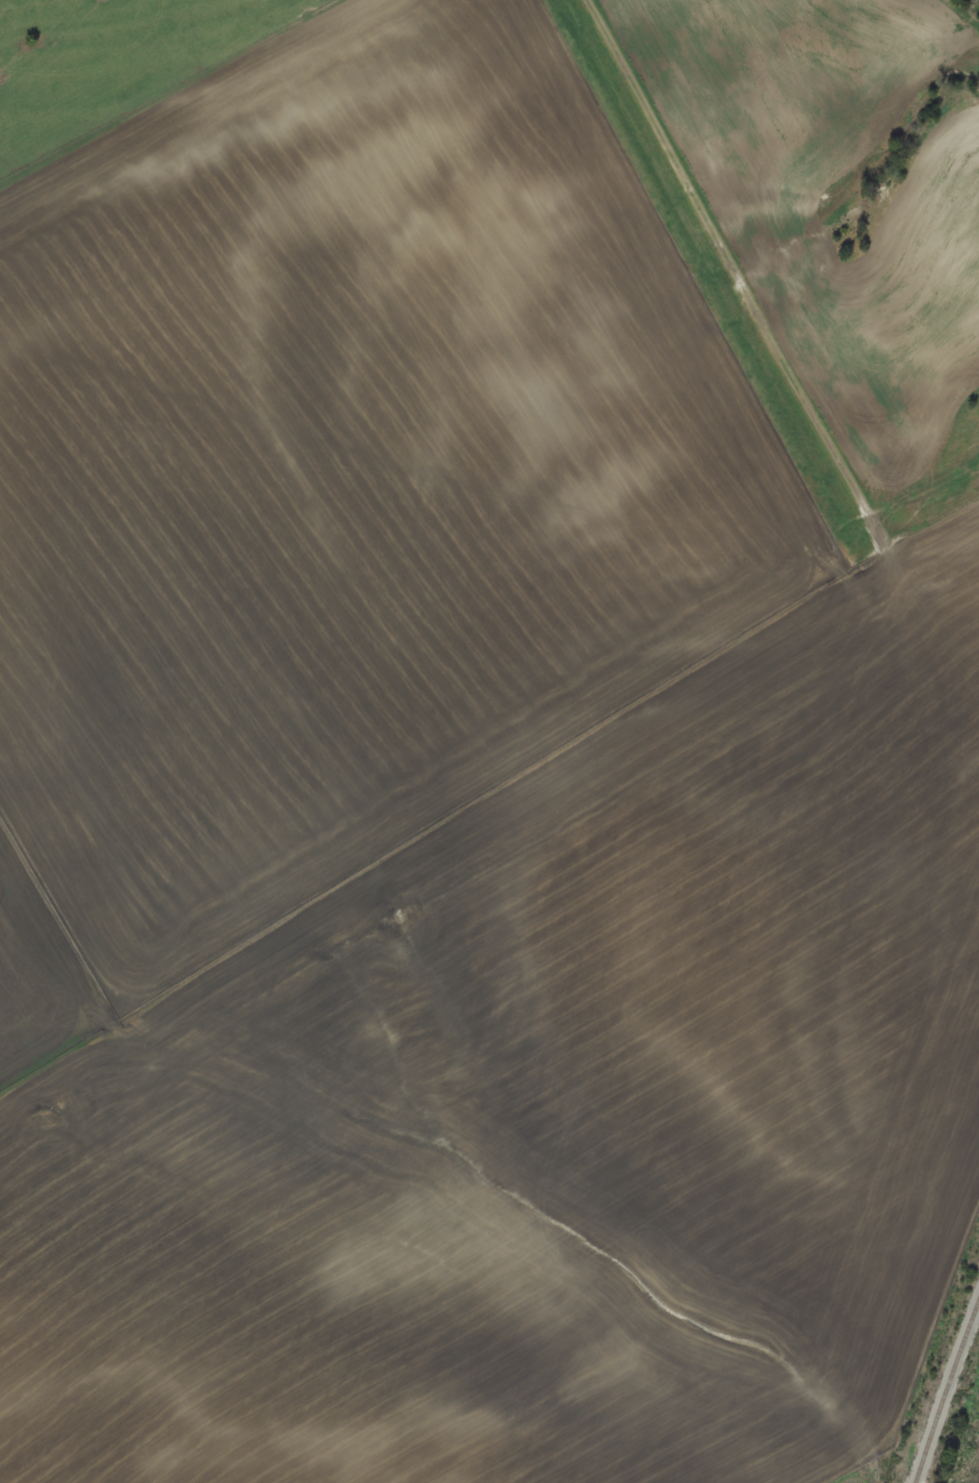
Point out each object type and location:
railway: (947, 1392)

